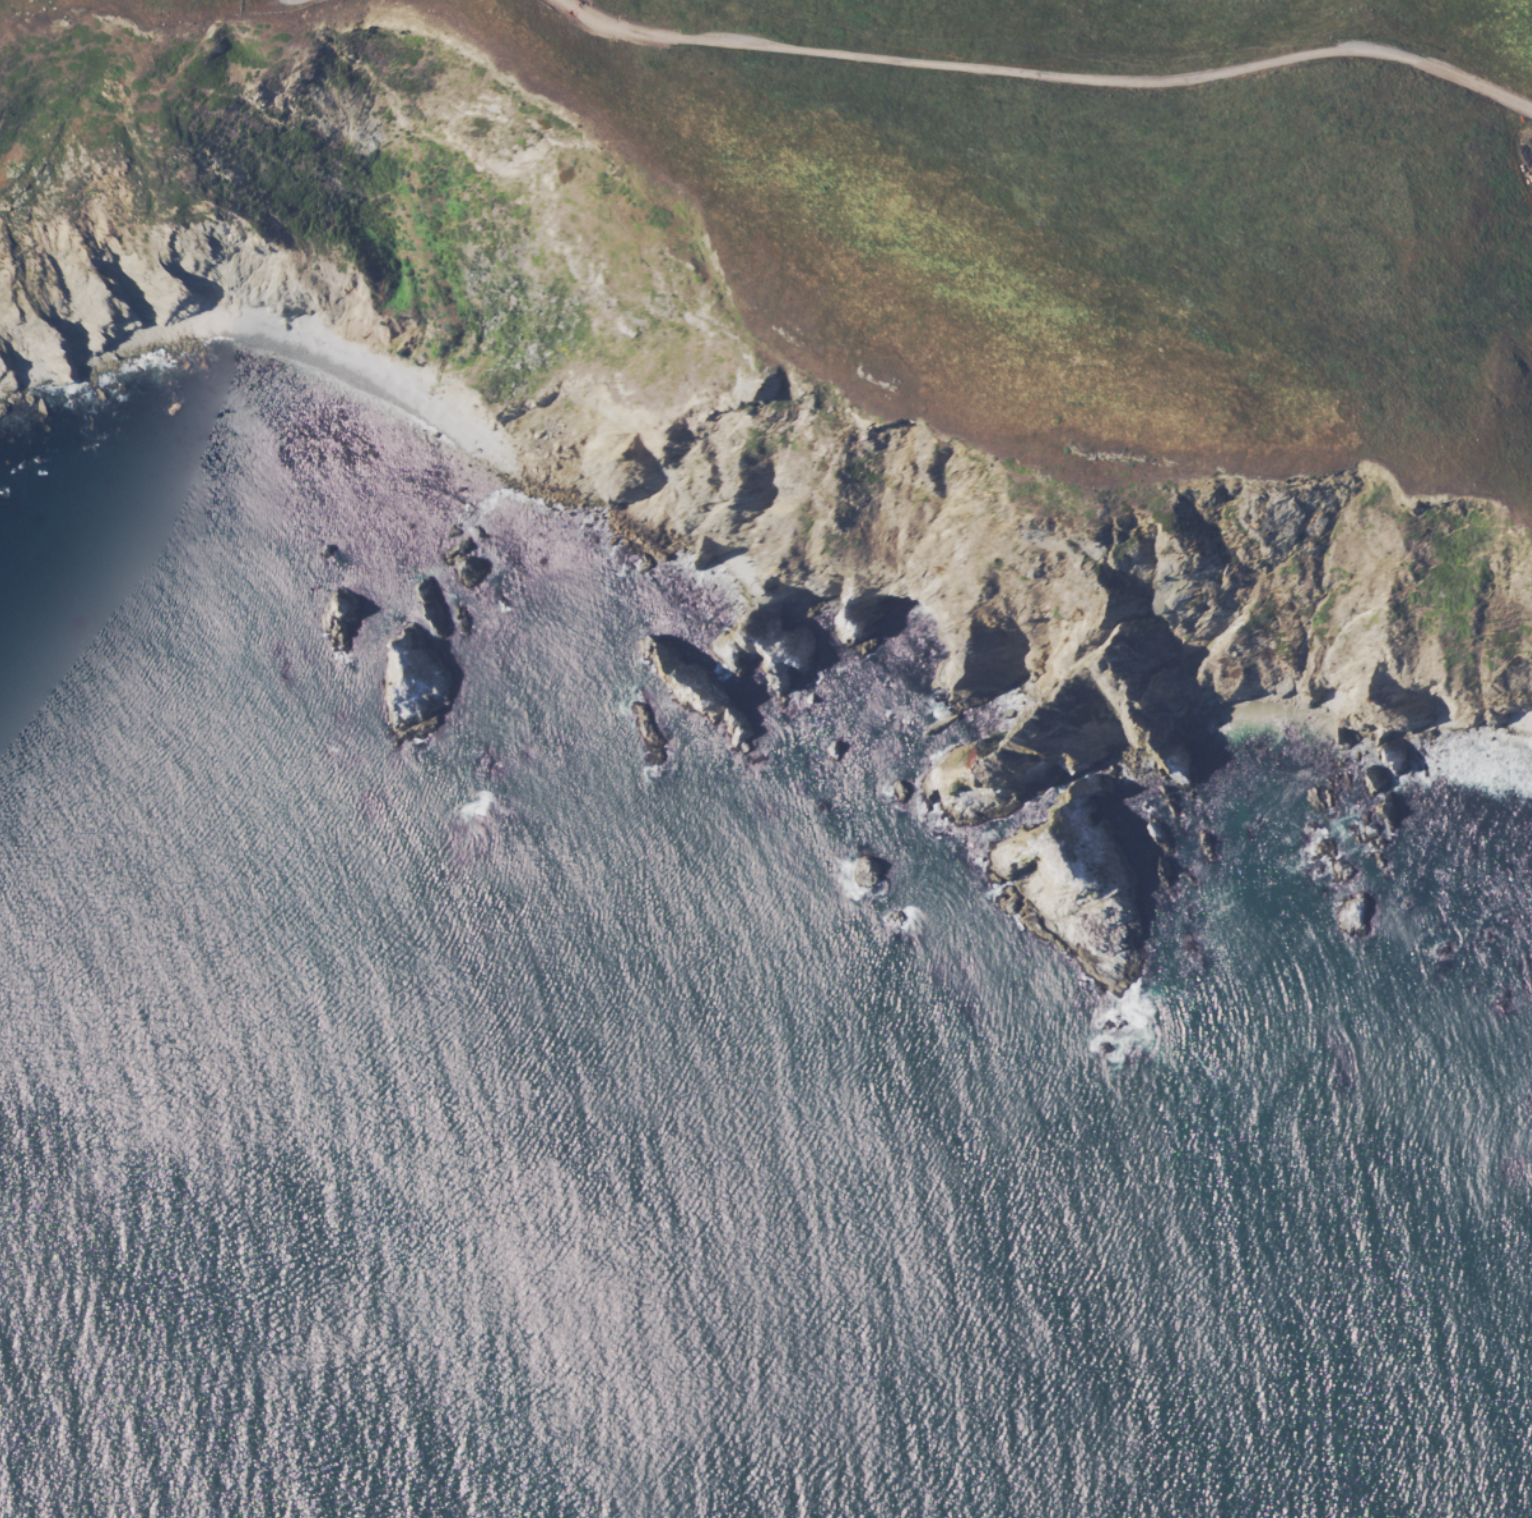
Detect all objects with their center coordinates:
road: (295, 3)
road: (1051, 75)

